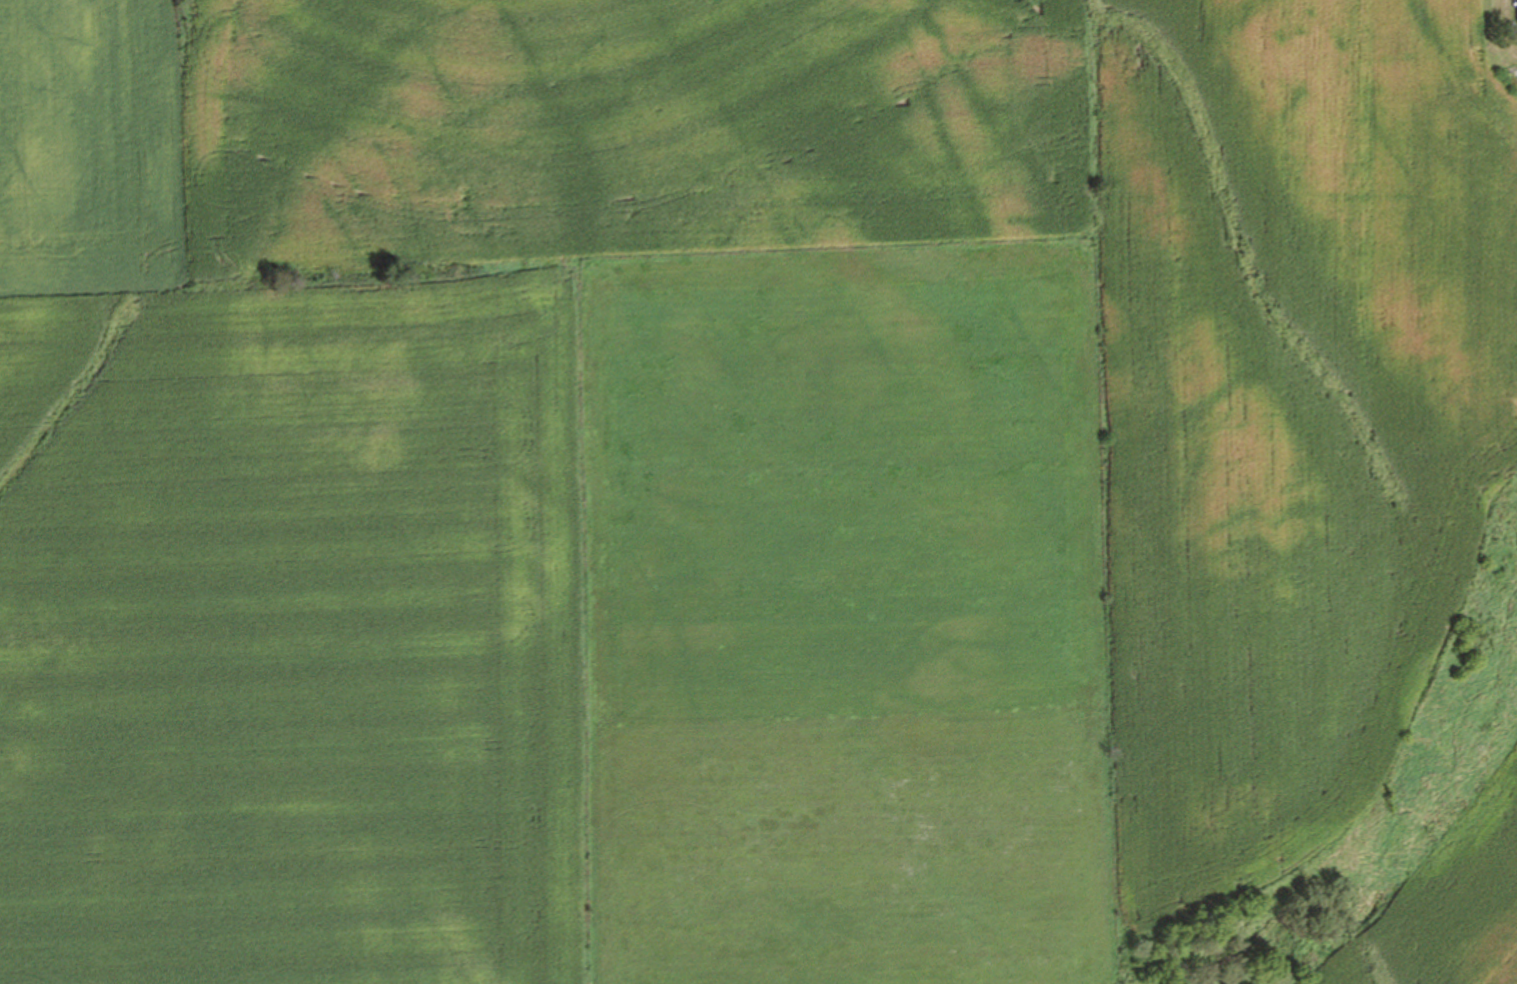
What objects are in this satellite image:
building: (1516, 21)

